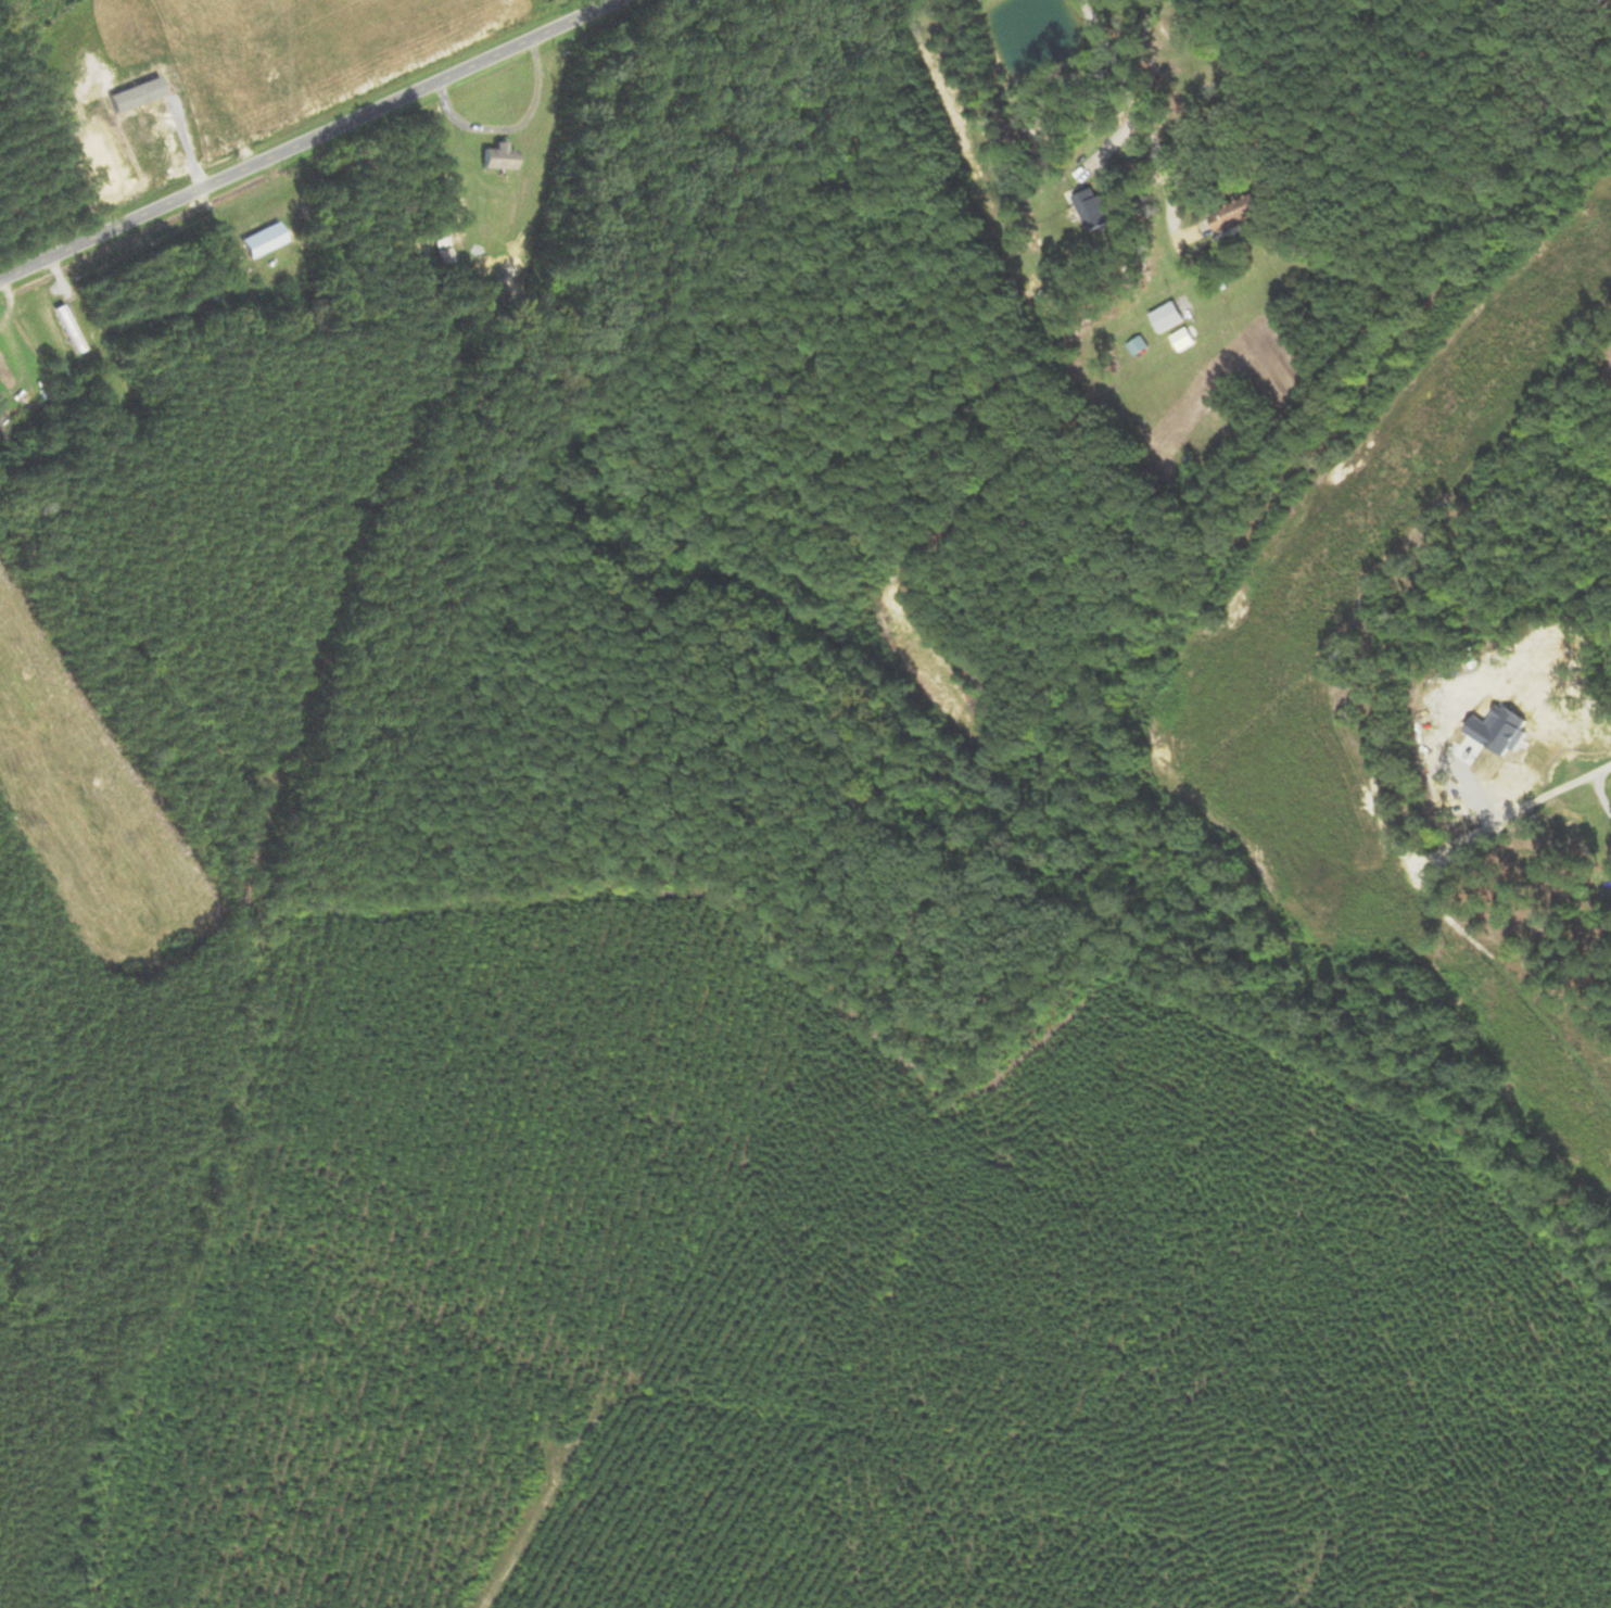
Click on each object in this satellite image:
road: (1125, 78)
road: (308, 140)
building: (495, 160)
building: (1091, 211)
building: (1235, 213)
building: (274, 233)
building: (245, 246)
building: (441, 249)
building: (1166, 317)
building: (67, 329)
building: (1138, 346)
building: (5, 375)
road: (1597, 773)

